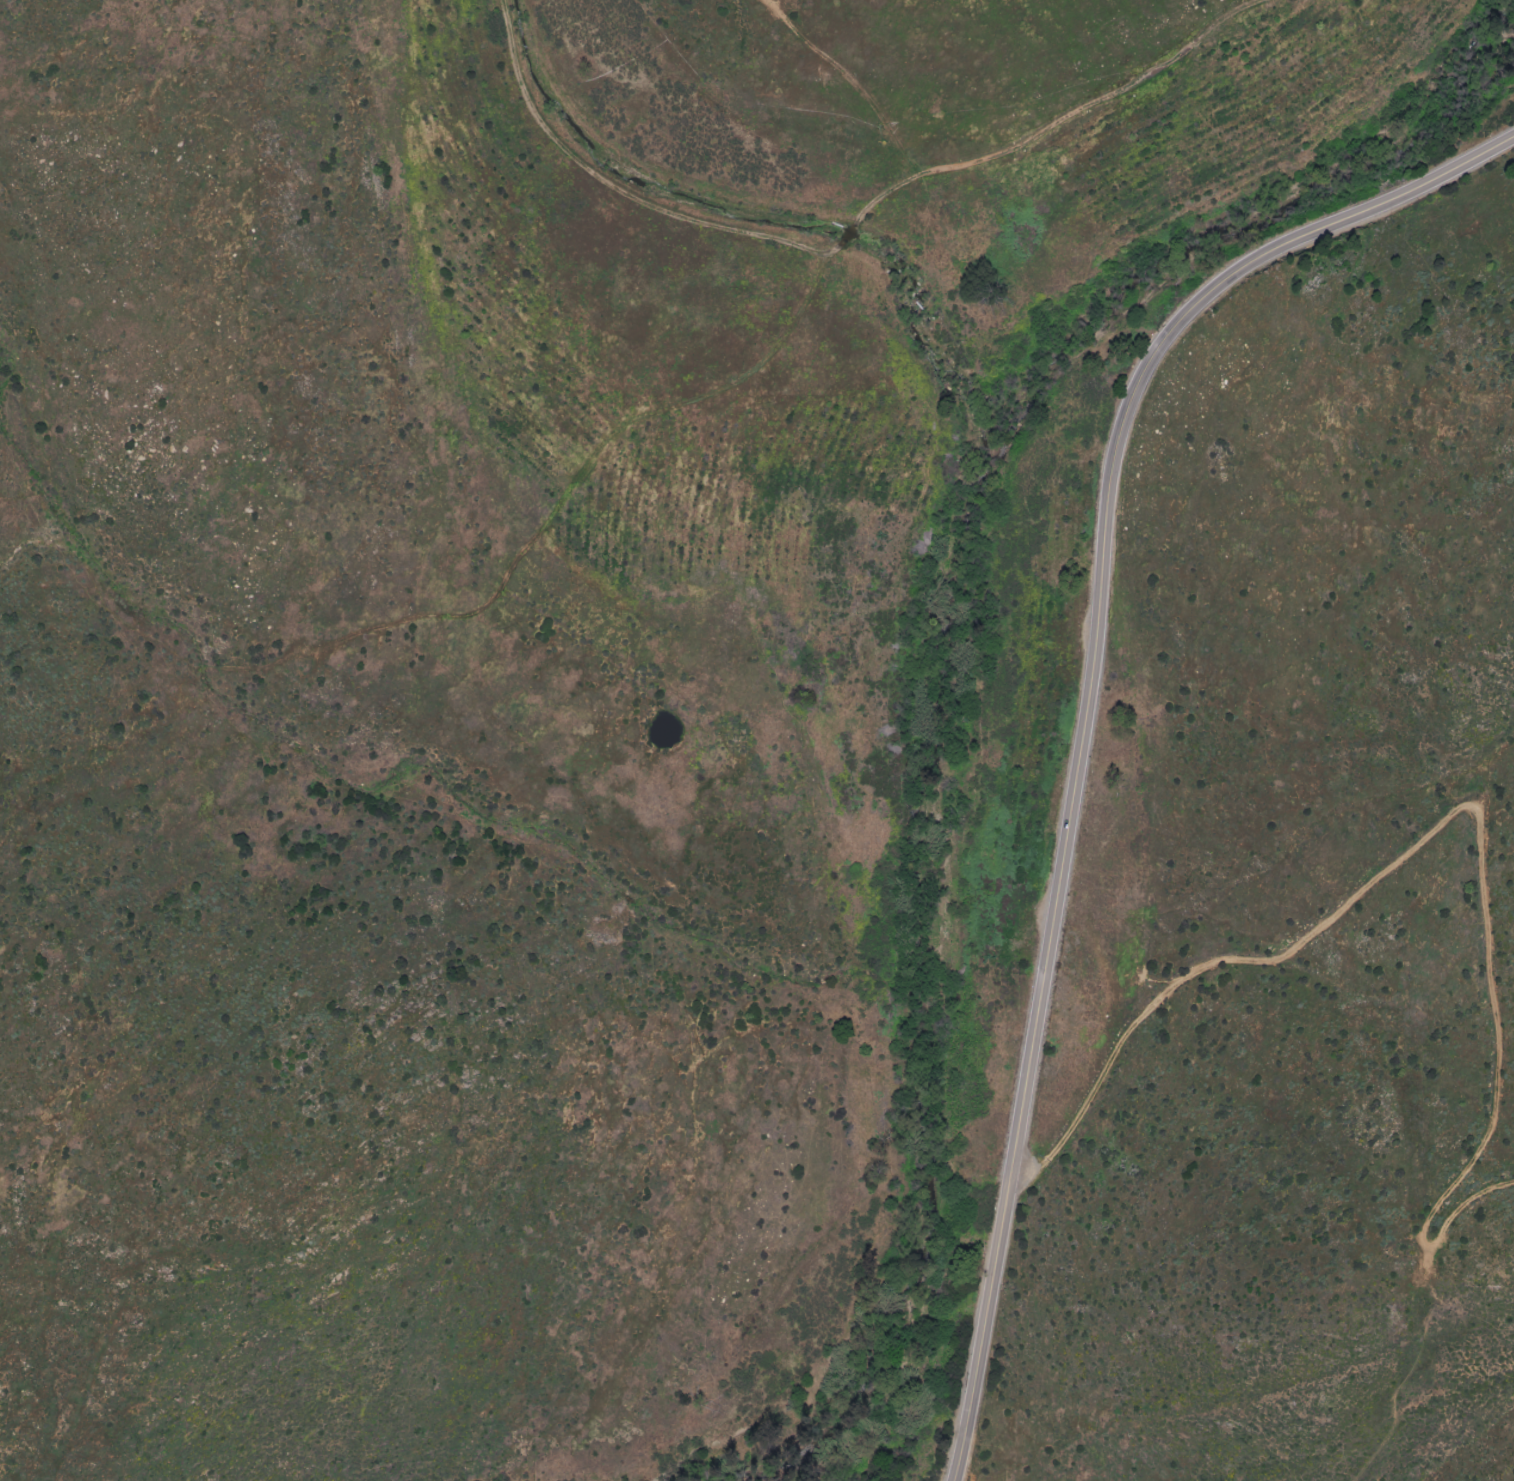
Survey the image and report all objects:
road: (853, 80)
road: (850, 230)
road: (1090, 715)
road: (1469, 828)

